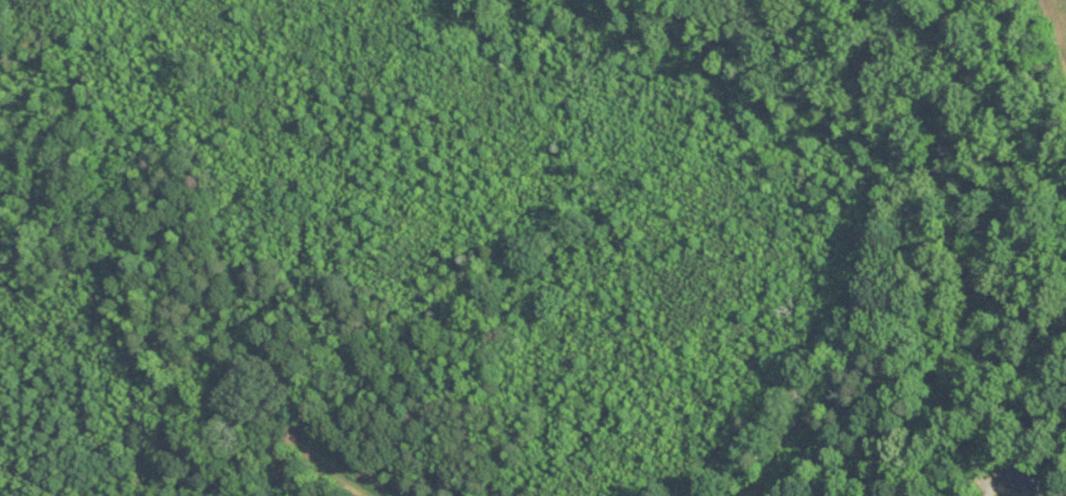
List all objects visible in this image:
road: (300, 446)
building: (1024, 476)
road: (1004, 488)

